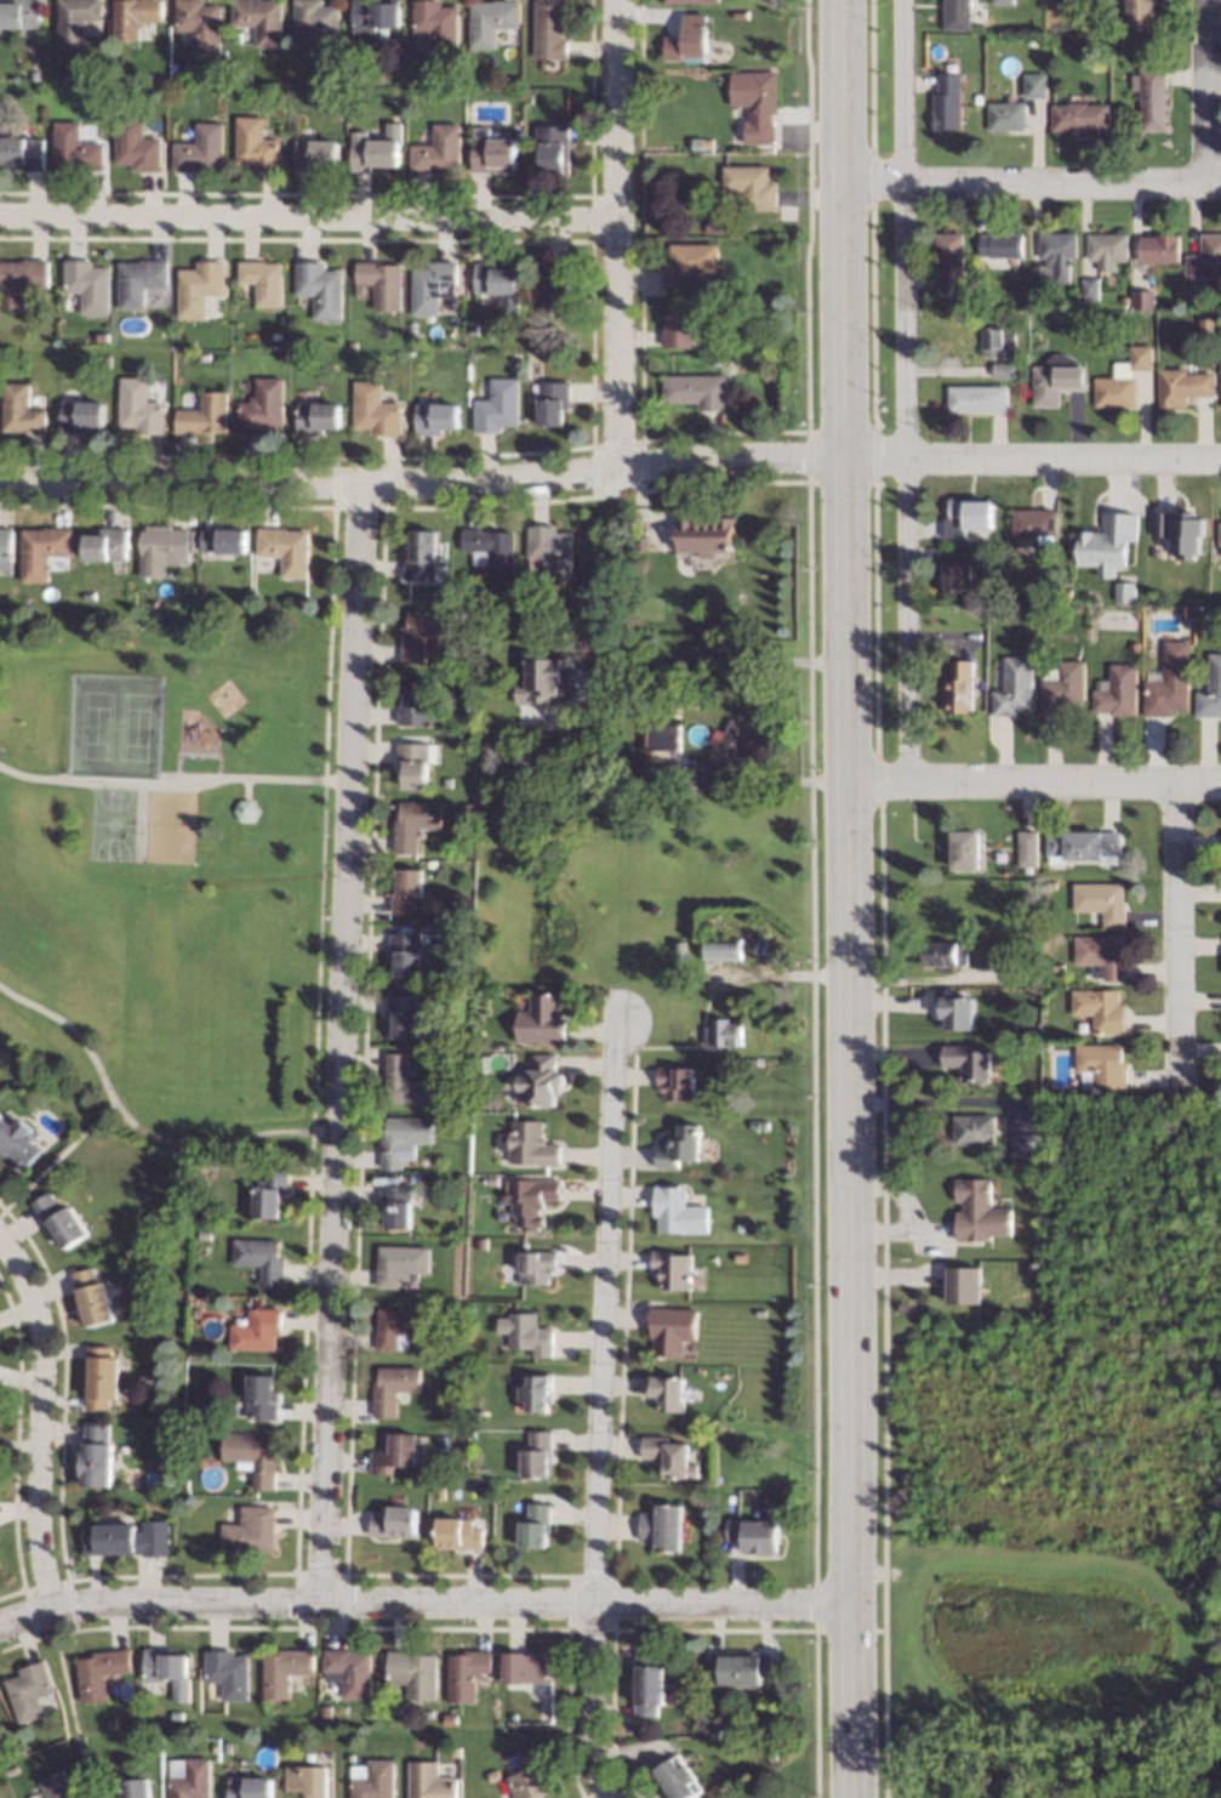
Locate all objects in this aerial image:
building: (687, 0)
building: (1090, 0)
building: (1004, 1)
building: (21, 13)
building: (375, 13)
building: (738, 13)
building: (958, 15)
building: (1139, 15)
building: (135, 16)
building: (76, 19)
building: (261, 19)
building: (490, 21)
building: (200, 23)
building: (319, 23)
building: (437, 24)
building: (548, 29)
building: (686, 39)
building: (118, 59)
building: (309, 66)
building: (452, 66)
building: (204, 73)
building: (34, 74)
building: (1034, 84)
road: (1199, 91)
building: (116, 92)
building: (263, 92)
building: (1149, 96)
building: (763, 99)
building: (947, 102)
building: (335, 114)
building: (1005, 115)
building: (1078, 115)
building: (514, 132)
building: (137, 144)
building: (256, 144)
building: (550, 146)
building: (377, 147)
building: (76, 148)
building: (200, 148)
building: (23, 150)
building: (437, 150)
building: (491, 152)
building: (315, 154)
road: (1033, 181)
building: (751, 184)
road: (309, 217)
road: (618, 233)
building: (1002, 244)
building: (1056, 245)
building: (1106, 246)
building: (1157, 249)
building: (1204, 257)
building: (949, 258)
building: (689, 263)
building: (1039, 275)
building: (493, 278)
building: (21, 279)
building: (138, 280)
building: (262, 280)
building: (381, 281)
building: (87, 285)
building: (432, 285)
building: (198, 288)
building: (320, 288)
building: (557, 288)
building: (1089, 289)
building: (1142, 298)
building: (1124, 301)
building: (717, 307)
building: (679, 325)
building: (411, 326)
building: (473, 328)
building: (297, 340)
building: (995, 340)
building: (283, 355)
building: (201, 357)
building: (298, 357)
building: (515, 360)
building: (742, 363)
building: (1002, 370)
building: (1056, 379)
building: (1122, 379)
building: (1220, 380)
building: (1180, 386)
building: (696, 389)
road: (909, 389)
building: (977, 398)
building: (553, 402)
building: (496, 405)
building: (138, 406)
building: (262, 406)
building: (19, 409)
building: (375, 409)
building: (80, 415)
building: (204, 415)
building: (316, 416)
building: (435, 417)
road: (1032, 459)
road: (423, 480)
building: (966, 516)
building: (1035, 523)
building: (1179, 530)
building: (702, 534)
building: (1219, 536)
building: (226, 540)
building: (107, 542)
building: (1106, 542)
building: (161, 547)
building: (285, 548)
building: (490, 548)
building: (549, 548)
building: (5, 550)
building: (42, 550)
building: (421, 553)
building: (954, 576)
building: (1069, 590)
building: (1124, 591)
building: (89, 596)
building: (546, 604)
building: (1185, 610)
building: (421, 631)
building: (1031, 644)
building: (1134, 647)
road: (715, 653)
building: (543, 675)
building: (467, 682)
building: (1168, 682)
building: (959, 685)
building: (1012, 687)
building: (1061, 687)
building: (1210, 689)
building: (1117, 692)
building: (418, 705)
park: (114, 722)
building: (661, 736)
building: (732, 744)
road: (196, 753)
building: (415, 762)
road: (169, 776)
road: (1033, 780)
building: (467, 808)
building: (246, 809)
park: (110, 823)
building: (413, 823)
park: (169, 826)
building: (1082, 846)
building: (1026, 848)
building: (964, 849)
building: (1026, 869)
park: (169, 878)
building: (1049, 884)
building: (407, 891)
road: (812, 898)
road: (846, 899)
building: (1100, 901)
road: (1176, 937)
building: (720, 949)
building: (945, 951)
building: (406, 952)
building: (1002, 954)
building: (1100, 955)
building: (1056, 965)
building: (1099, 1008)
building: (955, 1012)
building: (403, 1014)
building: (541, 1019)
building: (724, 1032)
road: (313, 1042)
road: (340, 1043)
building: (1043, 1046)
building: (966, 1062)
building: (1097, 1064)
building: (541, 1080)
building: (674, 1081)
building: (405, 1082)
building: (761, 1125)
road: (137, 1128)
building: (972, 1128)
building: (403, 1137)
building: (17, 1140)
building: (531, 1144)
building: (677, 1145)
building: (1023, 1145)
road: (56, 1160)
building: (492, 1180)
building: (457, 1183)
building: (268, 1190)
building: (529, 1201)
building: (396, 1205)
building: (675, 1211)
building: (977, 1211)
building: (59, 1219)
building: (738, 1228)
building: (202, 1233)
building: (261, 1259)
building: (401, 1264)
building: (536, 1267)
building: (671, 1269)
building: (962, 1282)
building: (91, 1297)
building: (195, 1311)
building: (398, 1327)
building: (257, 1328)
building: (671, 1330)
building: (525, 1331)
building: (101, 1376)
building: (146, 1378)
building: (393, 1387)
building: (536, 1392)
building: (666, 1392)
building: (261, 1395)
road: (598, 1410)
building: (195, 1413)
road: (39, 1418)
building: (96, 1453)
building: (394, 1453)
building: (251, 1455)
building: (536, 1455)
building: (671, 1456)
building: (440, 1492)
building: (393, 1521)
building: (534, 1525)
building: (662, 1527)
building: (250, 1529)
building: (458, 1534)
building: (753, 1535)
building: (129, 1537)
road: (423, 1604)
park: (1048, 1638)
building: (740, 1666)
building: (523, 1667)
building: (284, 1669)
building: (101, 1671)
building: (167, 1671)
building: (348, 1671)
building: (228, 1672)
building: (412, 1672)
building: (466, 1672)
building: (381, 1674)
building: (647, 1683)
building: (29, 1689)
road: (69, 1703)
building: (696, 1709)
building: (176, 1714)
building: (512, 1718)
building: (450, 1719)
building: (751, 1725)
building: (149, 1745)
building: (224, 1747)
building: (772, 1757)
building: (10, 1769)
building: (493, 1774)
building: (532, 1776)
building: (187, 1777)
building: (307, 1779)
building: (372, 1779)
building: (679, 1779)
building: (429, 1781)
building: (56, 1785)
building: (249, 1787)
building: (129, 1788)

